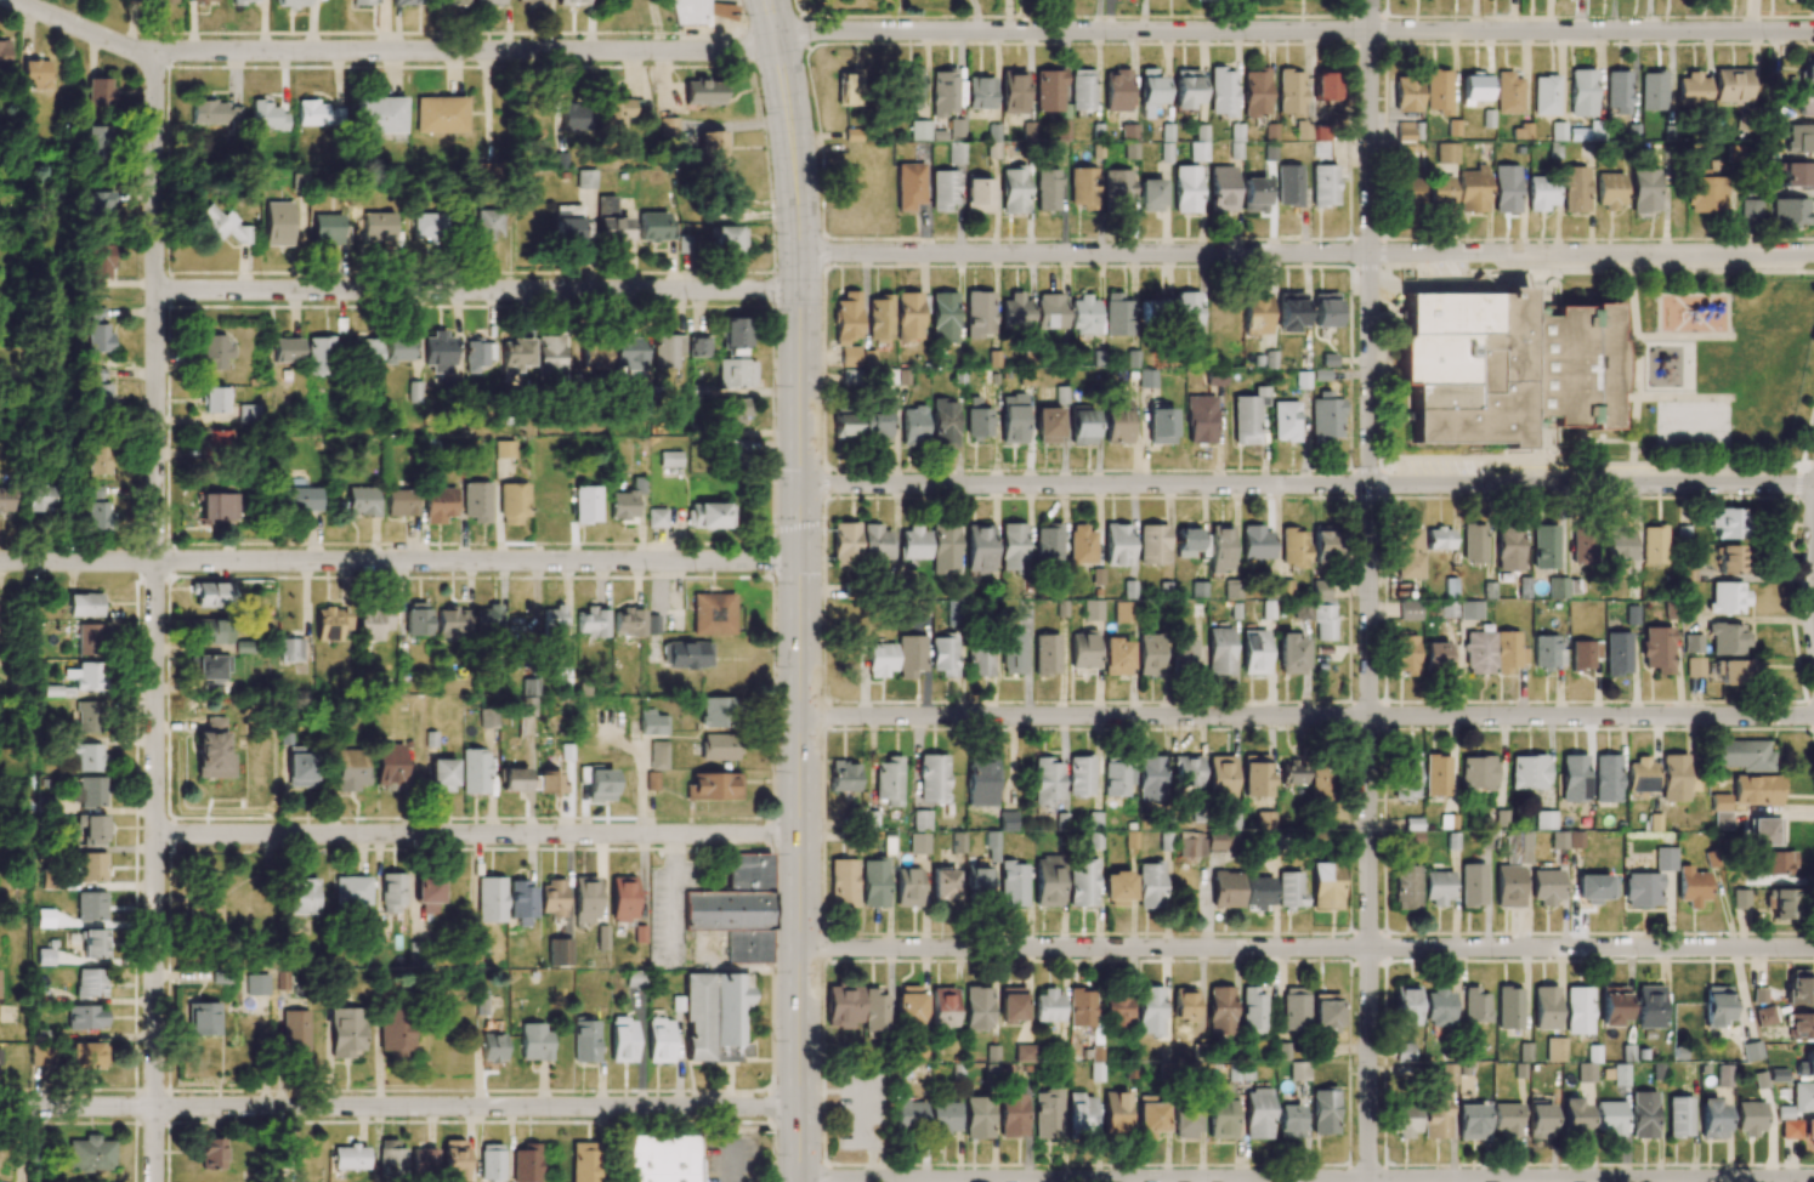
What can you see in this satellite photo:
building: (202, 0)
building: (160, 1)
building: (244, 1)
building: (404, 1)
building: (488, 1)
building: (532, 1)
building: (364, 2)
building: (457, 2)
building: (571, 2)
building: (289, 4)
building: (698, 12)
road: (1293, 32)
road: (390, 51)
building: (4, 53)
building: (1807, 72)
building: (36, 74)
building: (1730, 85)
building: (849, 87)
building: (909, 89)
building: (1082, 89)
building: (1150, 89)
building: (1186, 89)
building: (1473, 89)
building: (1049, 90)
building: (1691, 90)
building: (702, 91)
building: (1013, 91)
building: (1117, 91)
building: (1436, 91)
building: (1651, 91)
building: (98, 92)
building: (943, 92)
building: (980, 92)
building: (1223, 92)
building: (1255, 92)
building: (1291, 92)
building: (1581, 92)
building: (1617, 92)
building: (1406, 93)
building: (1508, 93)
building: (1544, 96)
building: (1803, 102)
building: (209, 112)
building: (614, 113)
building: (317, 114)
building: (441, 114)
building: (233, 115)
building: (380, 115)
building: (1322, 115)
building: (268, 117)
building: (573, 118)
building: (669, 126)
road: (789, 126)
building: (956, 127)
building: (919, 130)
building: (1303, 130)
building: (1408, 131)
building: (1558, 131)
building: (1587, 132)
building: (1799, 138)
building: (1236, 141)
building: (98, 143)
building: (712, 147)
building: (1197, 150)
building: (1445, 153)
building: (1797, 174)
building: (585, 178)
building: (909, 186)
building: (1288, 186)
building: (1323, 186)
building: (1117, 187)
building: (1083, 188)
building: (1186, 188)
building: (1223, 188)
building: (943, 189)
building: (1014, 189)
building: (1047, 189)
building: (1472, 189)
building: (1506, 189)
building: (1574, 189)
building: (1439, 191)
building: (1609, 191)
building: (1644, 191)
building: (1705, 192)
building: (1540, 193)
building: (980, 194)
building: (1254, 194)
building: (1151, 195)
building: (1408, 195)
building: (98, 204)
building: (1750, 209)
building: (1789, 212)
building: (610, 221)
building: (569, 222)
building: (276, 223)
building: (484, 225)
building: (219, 226)
building: (376, 226)
building: (427, 226)
building: (654, 227)
building: (324, 229)
building: (726, 239)
road: (1306, 254)
building: (98, 261)
road: (1629, 266)
road: (477, 291)
road: (1603, 294)
road: (1729, 305)
building: (1152, 309)
building: (1325, 309)
building: (1049, 311)
building: (1289, 311)
building: (1015, 312)
building: (1255, 313)
building: (979, 314)
building: (1186, 314)
building: (1083, 316)
building: (1117, 316)
building: (908, 317)
building: (943, 317)
building: (879, 319)
building: (846, 326)
building: (97, 331)
building: (733, 333)
road: (1623, 336)
building: (698, 347)
building: (401, 348)
building: (285, 350)
building: (668, 350)
building: (211, 352)
building: (369, 352)
building: (438, 352)
building: (518, 353)
building: (629, 353)
building: (480, 354)
building: (319, 356)
building: (551, 356)
building: (595, 357)
road: (1639, 366)
building: (1501, 368)
building: (736, 373)
building: (850, 377)
building: (1146, 379)
building: (1302, 380)
building: (97, 390)
road: (1625, 397)
road: (1685, 397)
building: (210, 399)
building: (735, 411)
building: (244, 413)
building: (1248, 416)
building: (1326, 416)
building: (976, 419)
building: (1011, 419)
building: (1200, 419)
building: (1117, 421)
building: (1285, 421)
building: (877, 422)
building: (943, 424)
building: (1160, 424)
park: (1691, 424)
building: (845, 425)
building: (1047, 425)
building: (1082, 425)
building: (913, 426)
road: (1602, 441)
building: (216, 442)
building: (504, 449)
building: (733, 451)
building: (98, 458)
building: (670, 459)
road: (1632, 470)
road: (1306, 484)
building: (91, 493)
building: (39, 498)
building: (6, 499)
building: (301, 499)
building: (362, 501)
building: (625, 501)
building: (401, 502)
building: (475, 502)
building: (512, 504)
building: (586, 504)
building: (438, 505)
building: (215, 507)
building: (96, 516)
building: (709, 516)
building: (656, 517)
building: (1727, 523)
road: (799, 525)
building: (1438, 539)
building: (844, 542)
building: (875, 542)
building: (913, 542)
building: (1048, 542)
building: (1186, 542)
building: (1255, 542)
building: (1473, 542)
building: (1653, 544)
building: (1082, 545)
building: (1117, 545)
building: (1152, 545)
building: (1323, 545)
building: (1619, 545)
building: (1013, 546)
building: (1508, 546)
building: (1544, 546)
building: (1583, 546)
building: (1220, 547)
building: (1293, 547)
building: (943, 549)
building: (979, 549)
building: (1407, 552)
building: (1728, 559)
road: (399, 562)
road: (1809, 562)
building: (1687, 572)
building: (1283, 587)
building: (1450, 587)
building: (1557, 587)
road: (1370, 591)
building: (210, 593)
building: (1727, 597)
building: (83, 604)
building: (1449, 608)
building: (1093, 610)
building: (1408, 610)
building: (1470, 610)
building: (1124, 612)
building: (1302, 612)
building: (1322, 612)
building: (713, 614)
road: (154, 615)
building: (1632, 615)
building: (416, 619)
building: (488, 619)
building: (554, 619)
building: (590, 621)
building: (627, 621)
building: (372, 623)
building: (450, 623)
building: (330, 624)
building: (209, 631)
building: (85, 638)
building: (1727, 638)
building: (1691, 643)
building: (290, 649)
building: (1657, 649)
building: (1013, 652)
building: (1219, 652)
building: (1254, 652)
building: (1506, 652)
building: (1184, 653)
building: (1405, 653)
building: (1479, 653)
building: (1547, 653)
building: (686, 654)
building: (943, 654)
building: (1045, 654)
building: (1150, 654)
building: (1289, 654)
building: (1585, 654)
building: (1617, 654)
building: (909, 655)
building: (1435, 655)
building: (1116, 657)
building: (880, 659)
building: (980, 660)
building: (1695, 666)
building: (206, 667)
building: (1730, 672)
building: (83, 676)
building: (210, 688)
building: (526, 706)
building: (716, 711)
building: (87, 716)
building: (487, 717)
road: (1306, 717)
road: (799, 718)
building: (652, 721)
building: (718, 746)
building: (210, 750)
building: (657, 755)
building: (1744, 755)
building: (87, 757)
street lamp: (821, 761)
building: (390, 766)
building: (300, 767)
building: (348, 769)
building: (474, 771)
building: (1186, 771)
building: (1527, 772)
building: (1292, 773)
building: (1476, 773)
building: (1436, 774)
building: (441, 775)
building: (844, 775)
building: (1079, 775)
building: (1220, 775)
building: (1255, 775)
building: (1407, 775)
building: (1642, 775)
building: (1117, 777)
building: (932, 778)
building: (1150, 778)
building: (1574, 778)
building: (1606, 778)
building: (1673, 778)
building: (514, 779)
building: (651, 780)
building: (888, 780)
building: (1047, 780)
building: (596, 782)
building: (981, 782)
building: (549, 783)
building: (1321, 783)
building: (713, 786)
building: (1756, 790)
building: (89, 791)
building: (1721, 802)
building: (922, 820)
building: (1265, 820)
building: (1544, 820)
building: (1722, 820)
building: (1447, 822)
building: (90, 830)
building: (1764, 831)
road: (476, 835)
building: (1558, 839)
building: (1221, 840)
building: (1164, 841)
building: (957, 842)
building: (1191, 843)
building: (917, 846)
building: (992, 846)
building: (1520, 846)
street lamp: (773, 854)
building: (1665, 858)
building: (1775, 862)
building: (90, 866)
building: (977, 881)
building: (1048, 881)
building: (874, 882)
building: (1083, 882)
building: (843, 883)
building: (1013, 883)
building: (943, 885)
building: (1150, 885)
building: (1472, 885)
building: (1326, 886)
building: (1546, 886)
building: (1691, 886)
building: (907, 887)
building: (1406, 887)
building: (1436, 887)
building: (1508, 887)
building: (1117, 888)
building: (1594, 888)
building: (351, 890)
building: (1225, 890)
building: (1642, 890)
building: (1288, 891)
building: (1257, 892)
building: (391, 893)
building: (427, 894)
building: (301, 896)
building: (552, 898)
building: (622, 898)
building: (1740, 898)
building: (491, 899)
building: (585, 899)
building: (521, 903)
building: (1781, 903)
building: (90, 905)
building: (736, 908)
building: (44, 917)
building: (209, 917)
street lamp: (821, 921)
building: (92, 943)
road: (1306, 948)
building: (559, 951)
building: (419, 954)
building: (44, 956)
street lamp: (1780, 957)
building: (636, 978)
building: (90, 983)
building: (256, 984)
building: (1799, 987)
building: (44, 993)
building: (1759, 995)
building: (1184, 1002)
building: (1011, 1004)
building: (1405, 1005)
building: (1614, 1005)
building: (843, 1006)
building: (1048, 1006)
building: (1475, 1006)
building: (1716, 1006)
building: (909, 1007)
building: (942, 1007)
building: (1081, 1007)
building: (1436, 1007)
building: (1509, 1007)
building: (1544, 1007)
building: (1649, 1007)
building: (977, 1008)
building: (1253, 1008)
building: (1294, 1008)
building: (1116, 1010)
building: (1220, 1010)
building: (1578, 1010)
building: (874, 1011)
building: (1150, 1011)
building: (1325, 1012)
building: (696, 1015)
building: (731, 1016)
building: (1764, 1016)
building: (85, 1017)
building: (202, 1019)
building: (1801, 1027)
building: (396, 1030)
building: (295, 1032)
building: (346, 1032)
building: (584, 1040)
building: (622, 1040)
building: (659, 1040)
street lamp: (773, 1040)
building: (534, 1041)
building: (492, 1047)
building: (1752, 1051)
building: (1024, 1052)
building: (1404, 1052)
building: (40, 1055)
building: (86, 1056)
building: (1806, 1064)
building: (1299, 1070)
building: (1586, 1072)
building: (1449, 1074)
building: (1620, 1075)
building: (1723, 1075)
street lamp: (685, 1093)
building: (1802, 1097)
road: (399, 1107)
building: (1323, 1110)
building: (1115, 1112)
building: (909, 1114)
building: (1048, 1114)
building: (1081, 1114)
building: (1258, 1114)
building: (1435, 1114)
building: (1013, 1115)
building: (1643, 1115)
building: (1574, 1116)
building: (1678, 1116)
building: (943, 1118)
building: (977, 1118)
building: (1150, 1118)
building: (1609, 1118)
building: (1748, 1118)
building: (1405, 1119)
building: (1506, 1119)
building: (1712, 1119)
building: (1538, 1120)
building: (1288, 1121)
building: (1470, 1121)
building: (1184, 1123)
building: (1790, 1129)
building: (1808, 1131)
road: (23, 1144)
building: (211, 1153)
building: (90, 1154)
street lamp: (822, 1157)
building: (350, 1158)
building: (391, 1158)
building: (661, 1158)
building: (453, 1160)
building: (423, 1161)
building: (585, 1161)
building: (491, 1163)
building: (526, 1163)
building: (697, 1170)
road: (1305, 1180)

